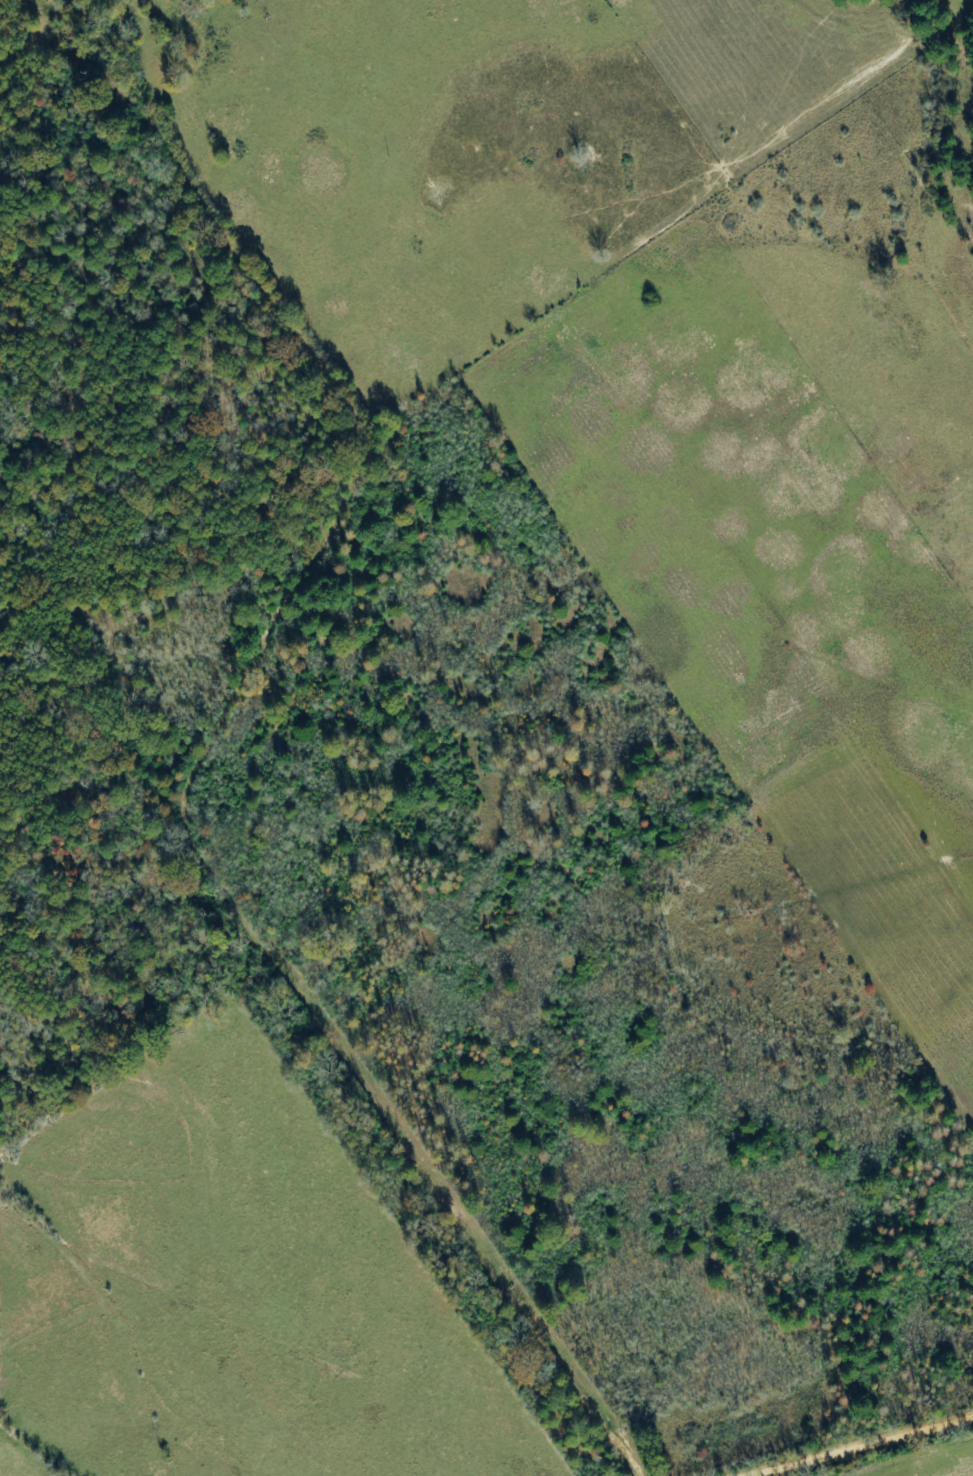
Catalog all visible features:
road: (884, 1449)

